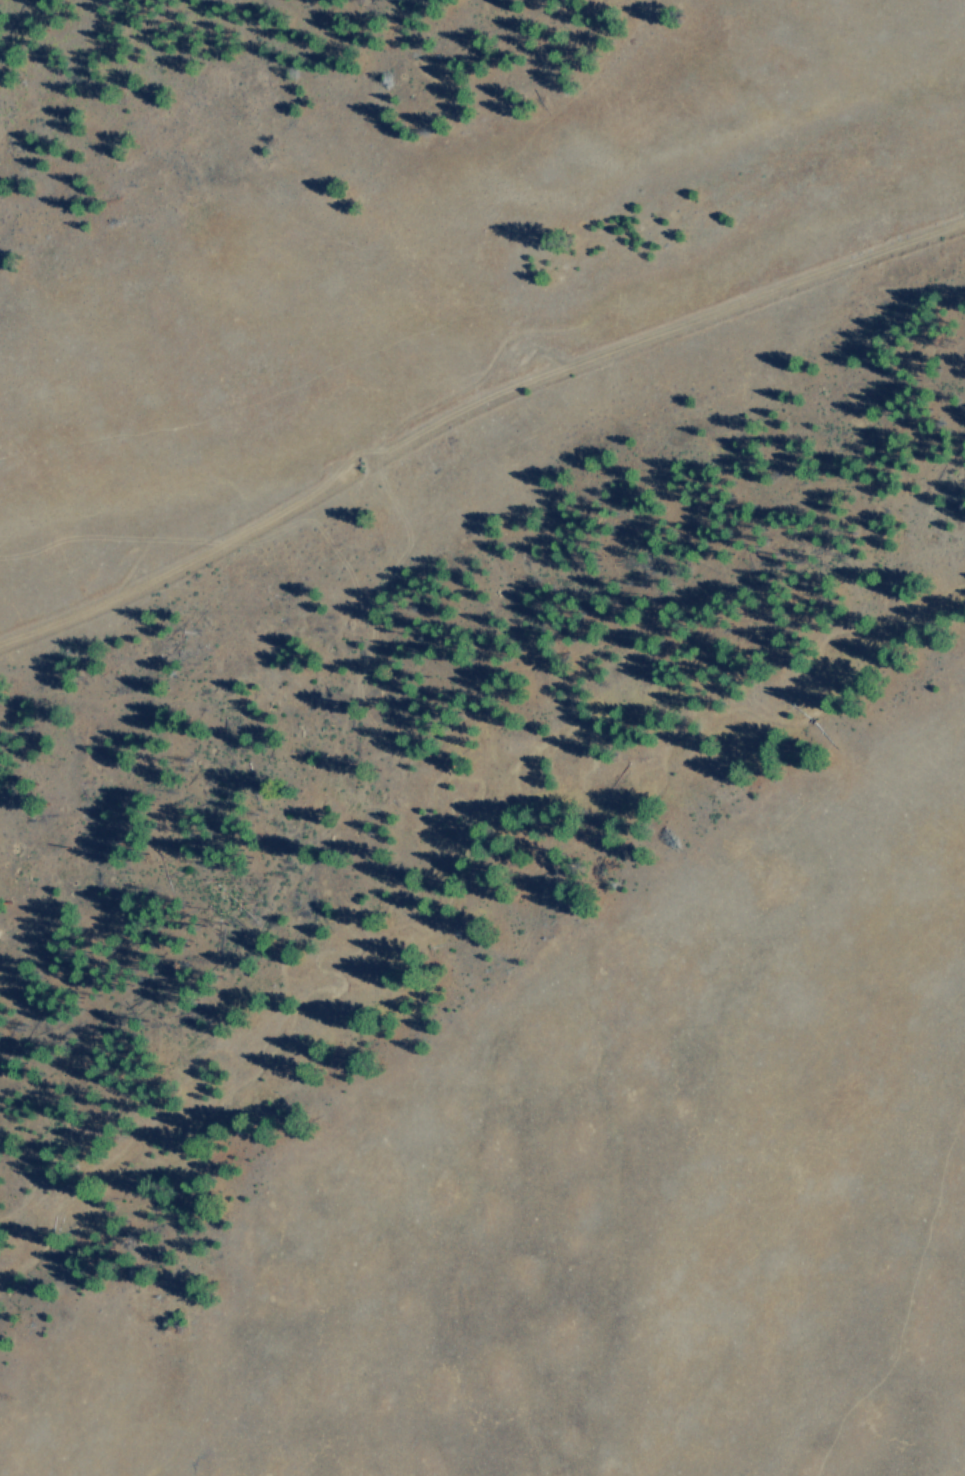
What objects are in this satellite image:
road: (196, 34)
road: (964, 1475)

